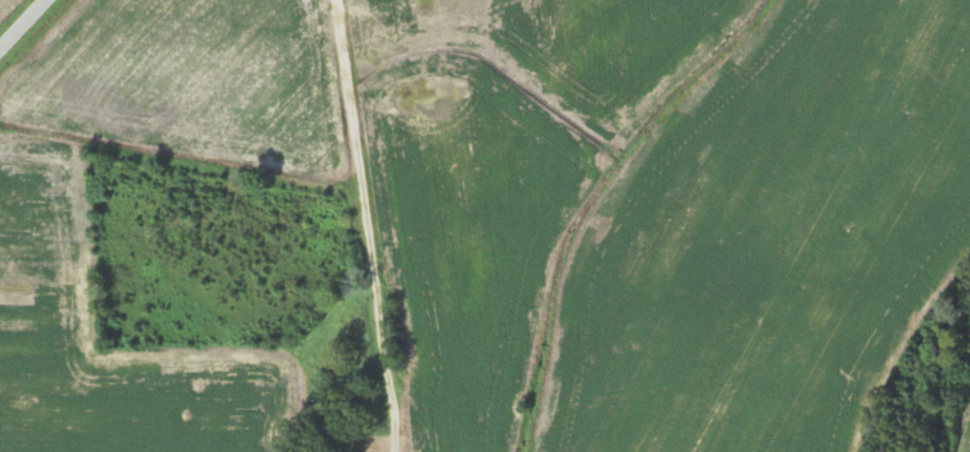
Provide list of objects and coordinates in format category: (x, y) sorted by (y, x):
road: (23, 24)
road: (367, 226)

